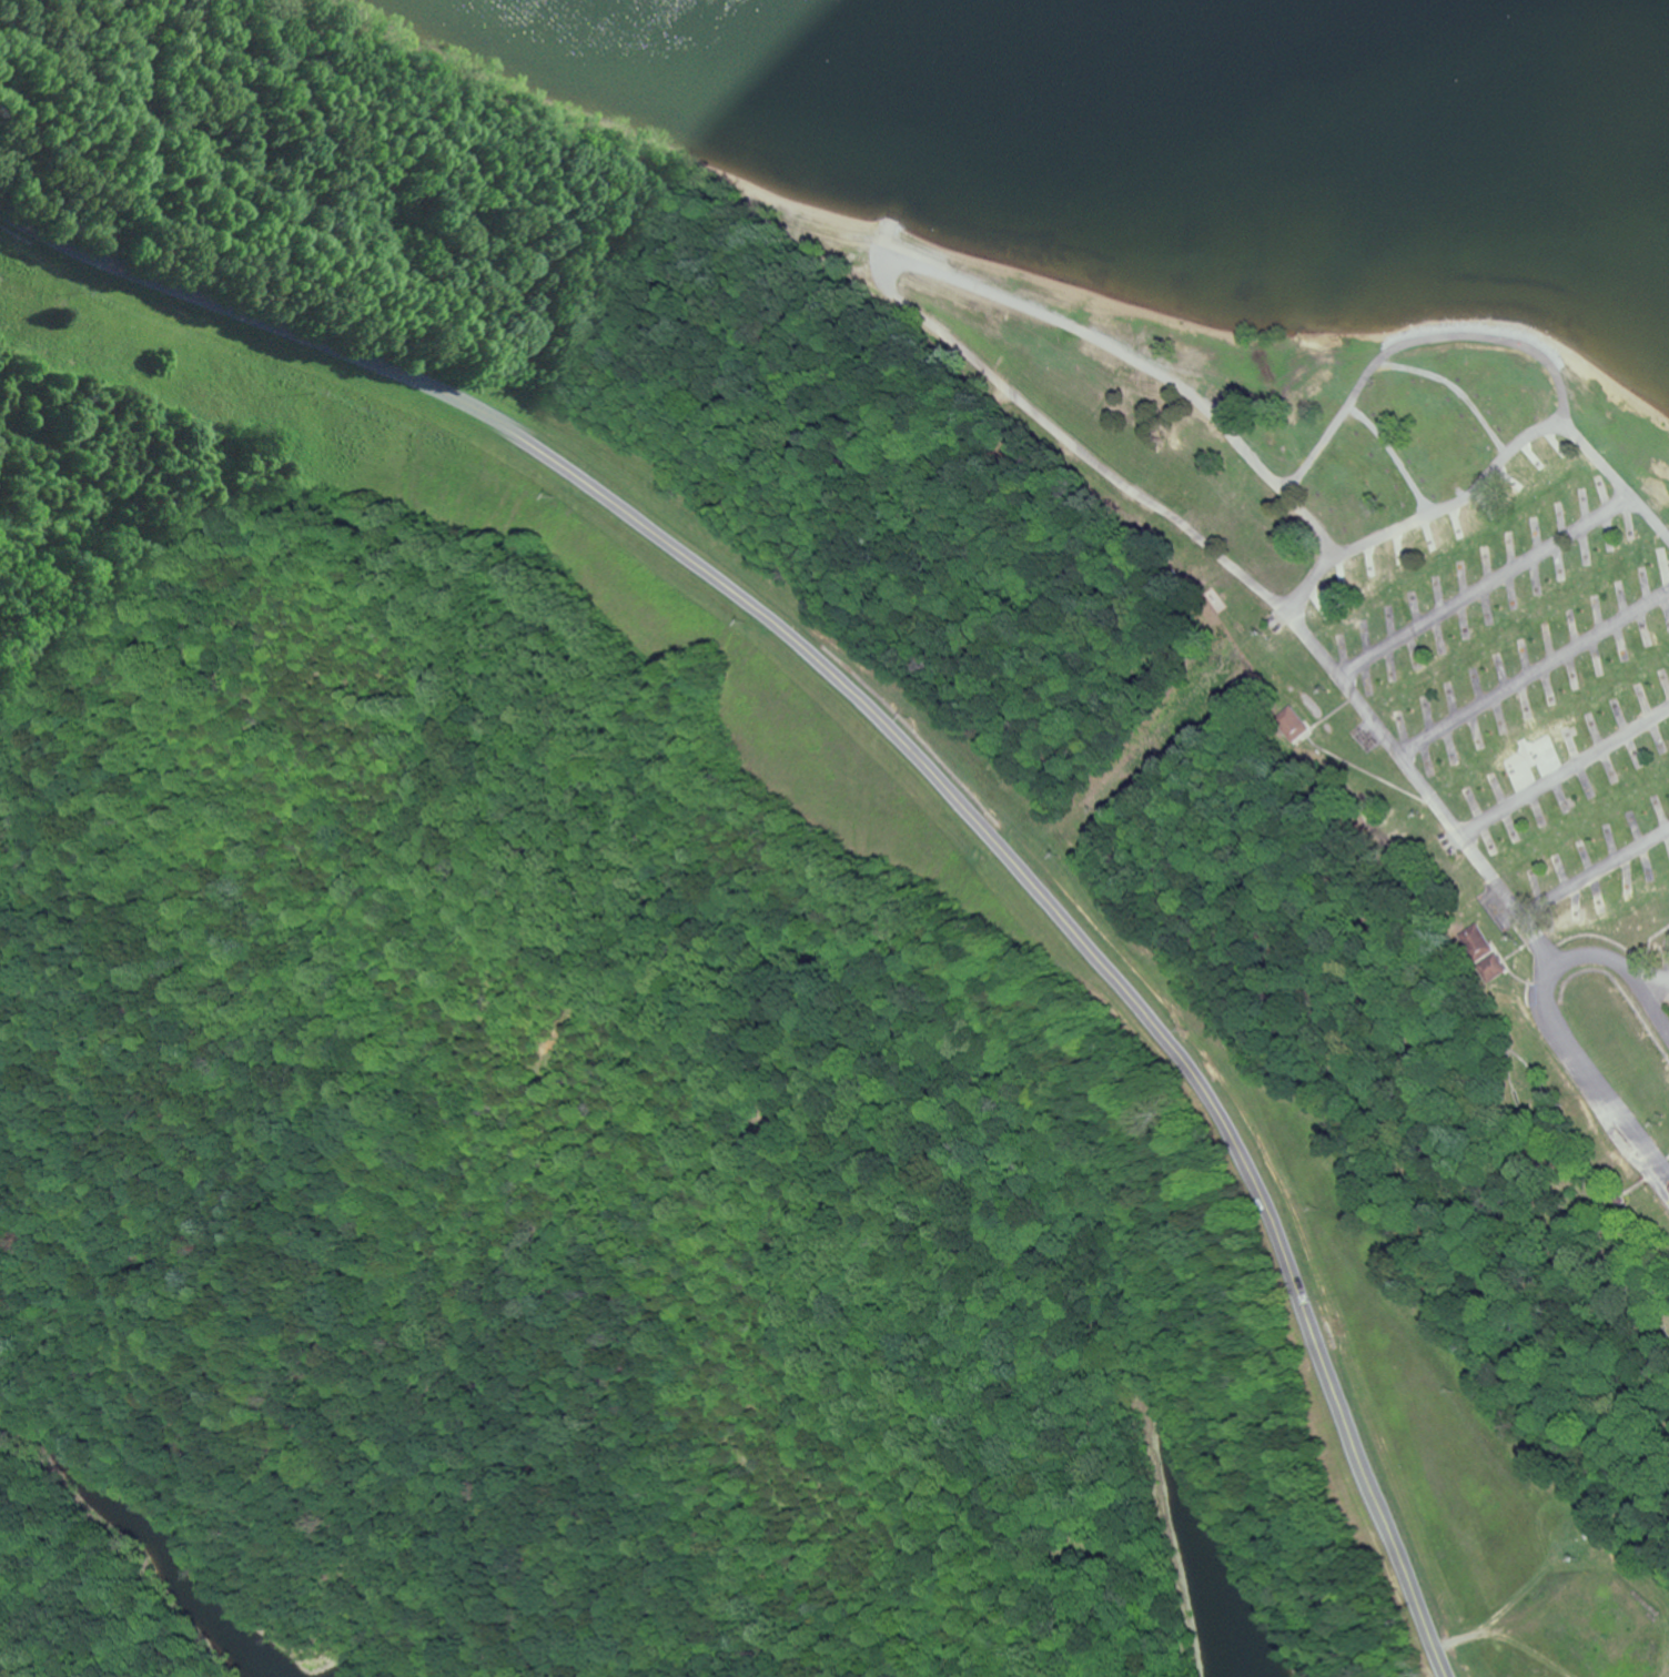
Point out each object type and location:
road: (1460, 386)
road: (1072, 434)
road: (1397, 455)
road: (1262, 471)
road: (1323, 564)
road: (1488, 582)
road: (1536, 671)
road: (914, 757)
road: (1567, 774)
road: (1597, 872)
park: (803, 908)
road: (1546, 943)
building: (1483, 947)
road: (1658, 989)
road: (1560, 1028)
park: (82, 1599)

